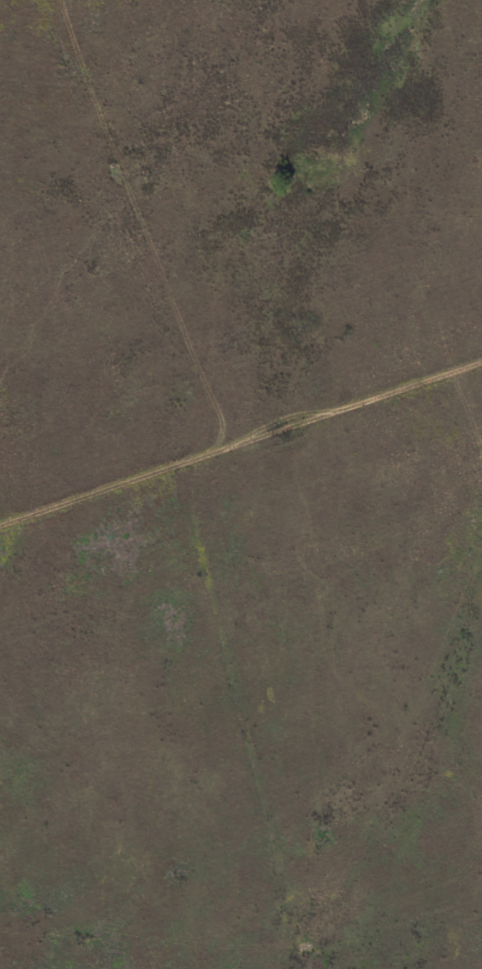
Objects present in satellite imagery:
road: (241, 515)

